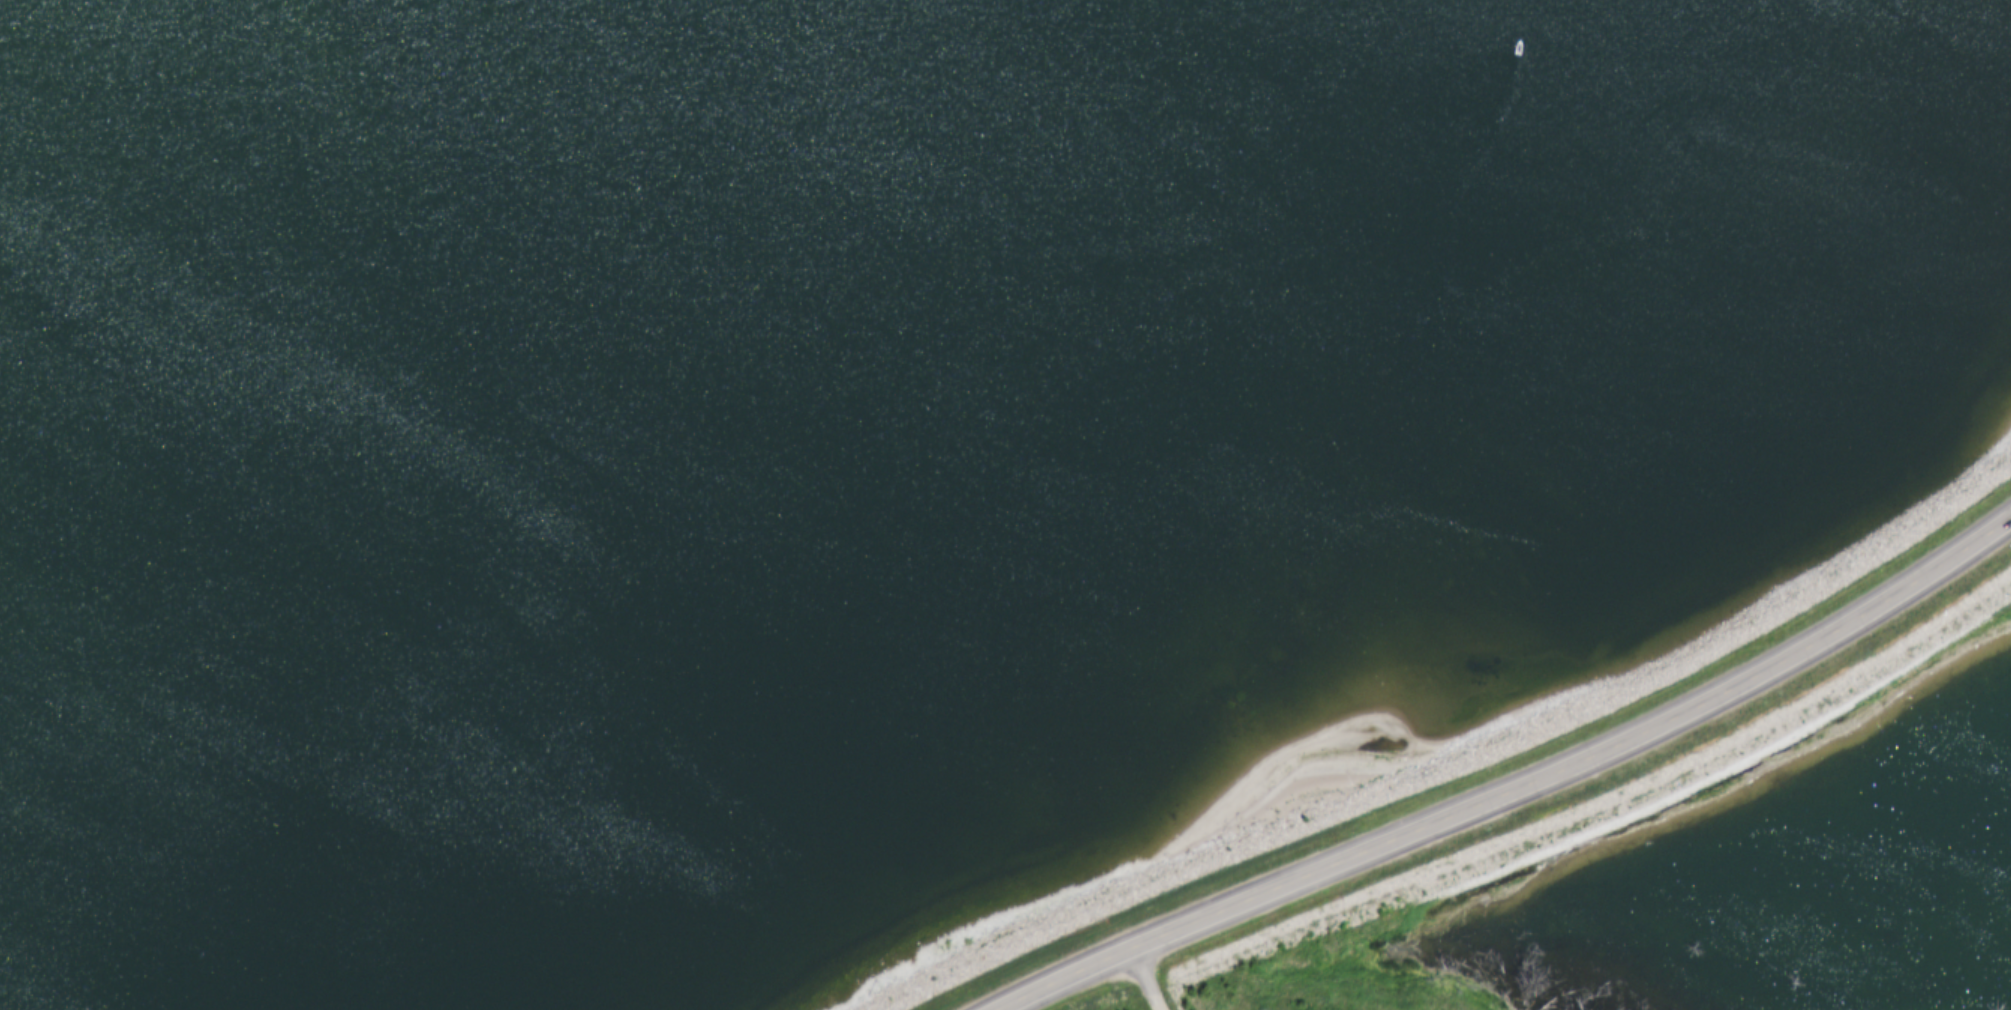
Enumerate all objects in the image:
road: (1467, 785)
road: (1136, 959)

